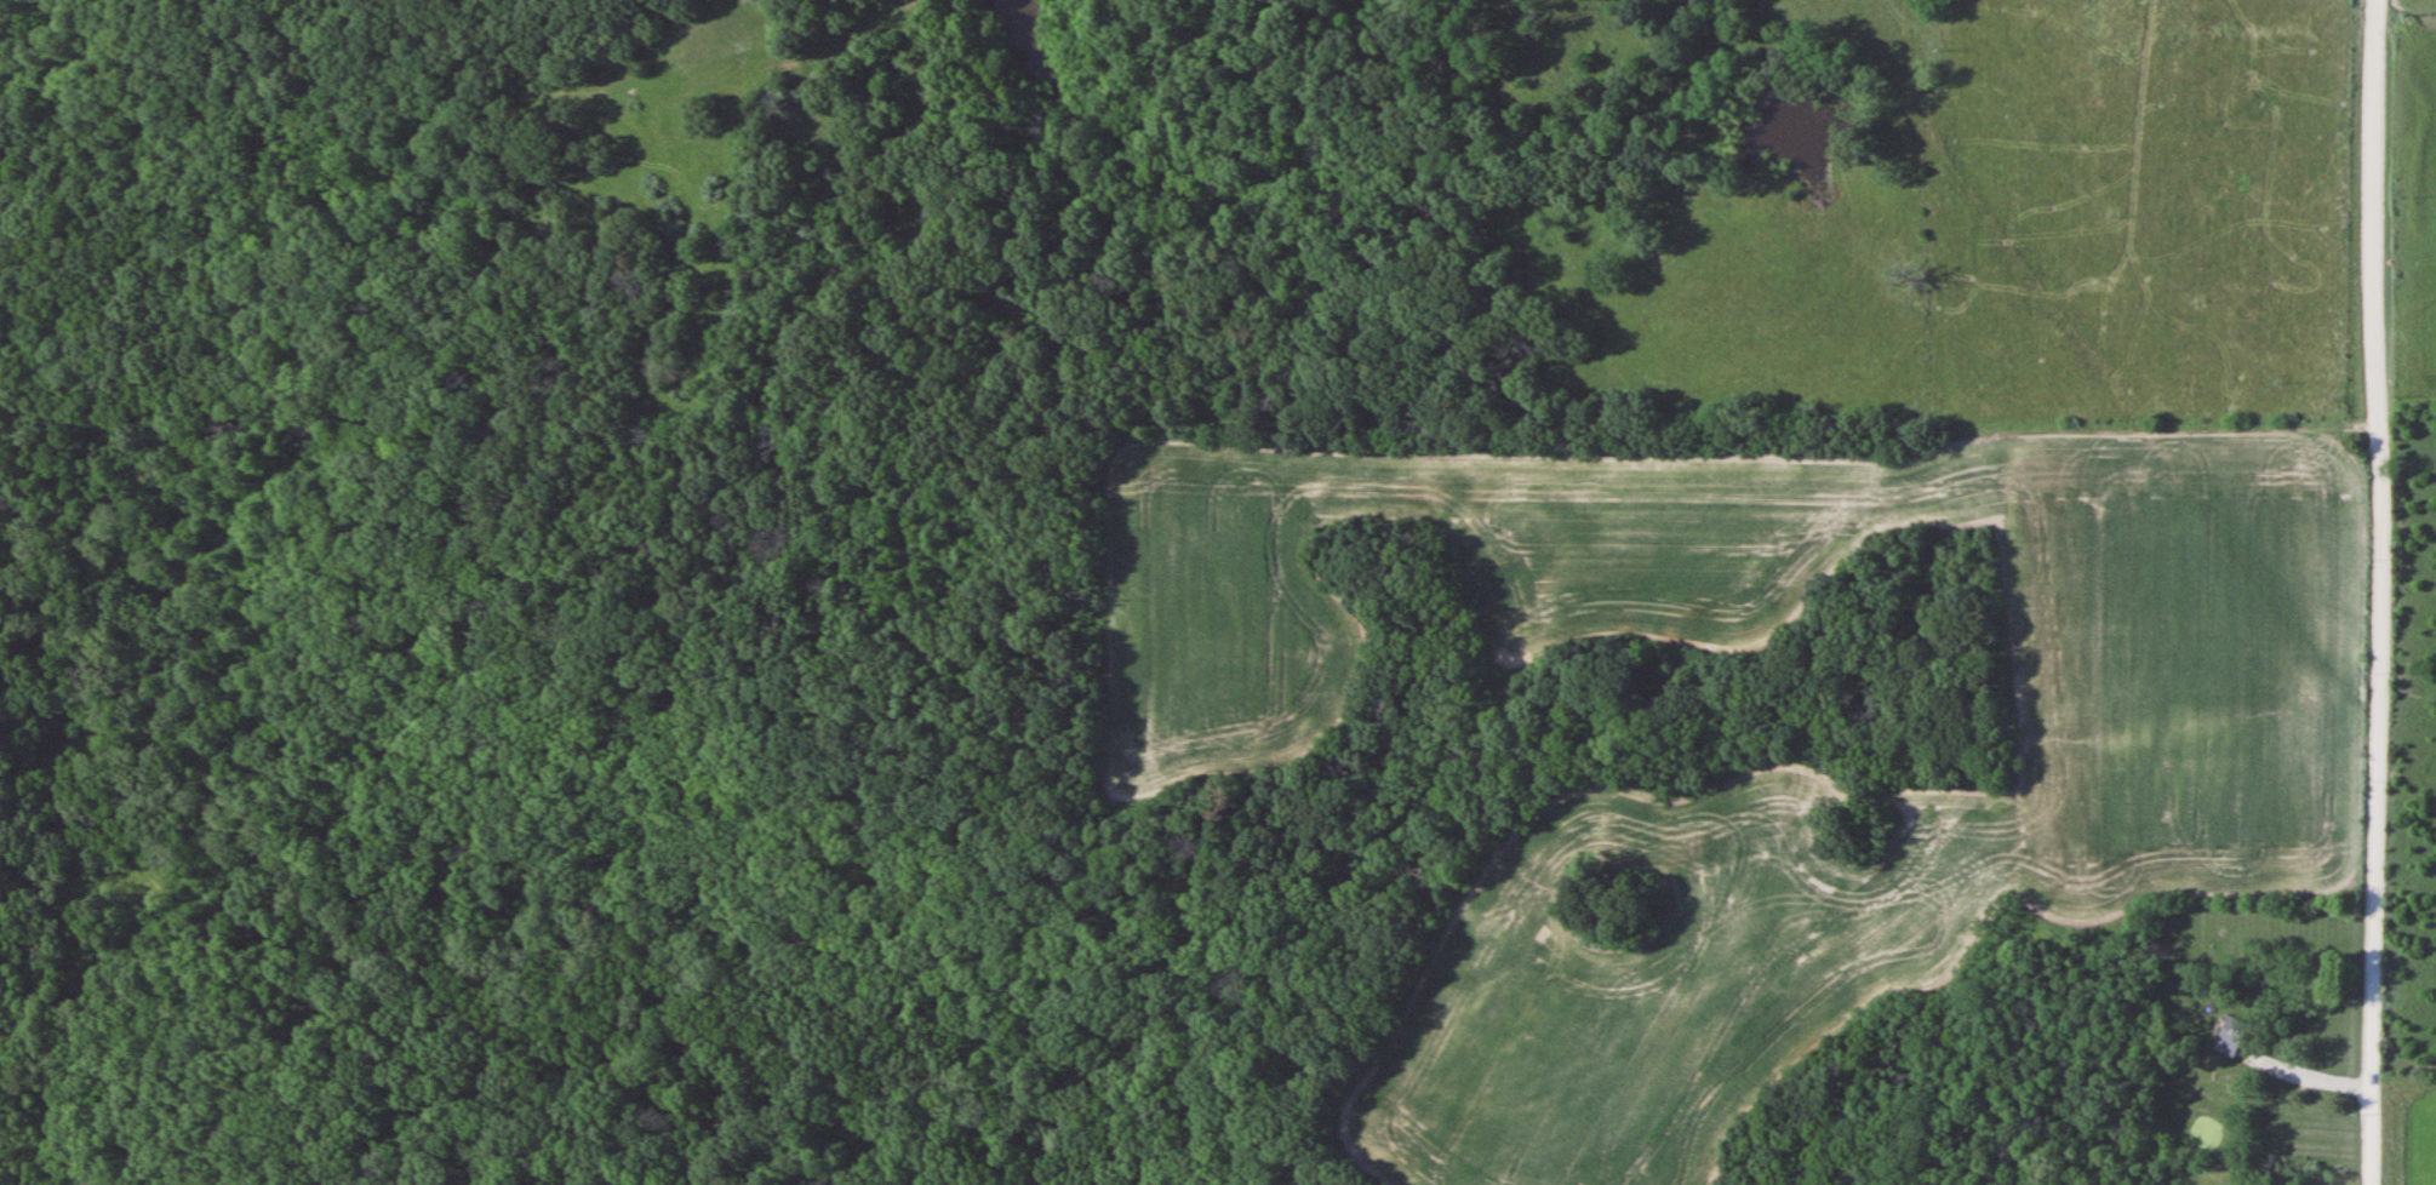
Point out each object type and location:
road: (2369, 205)
road: (2372, 796)
building: (2231, 1035)

